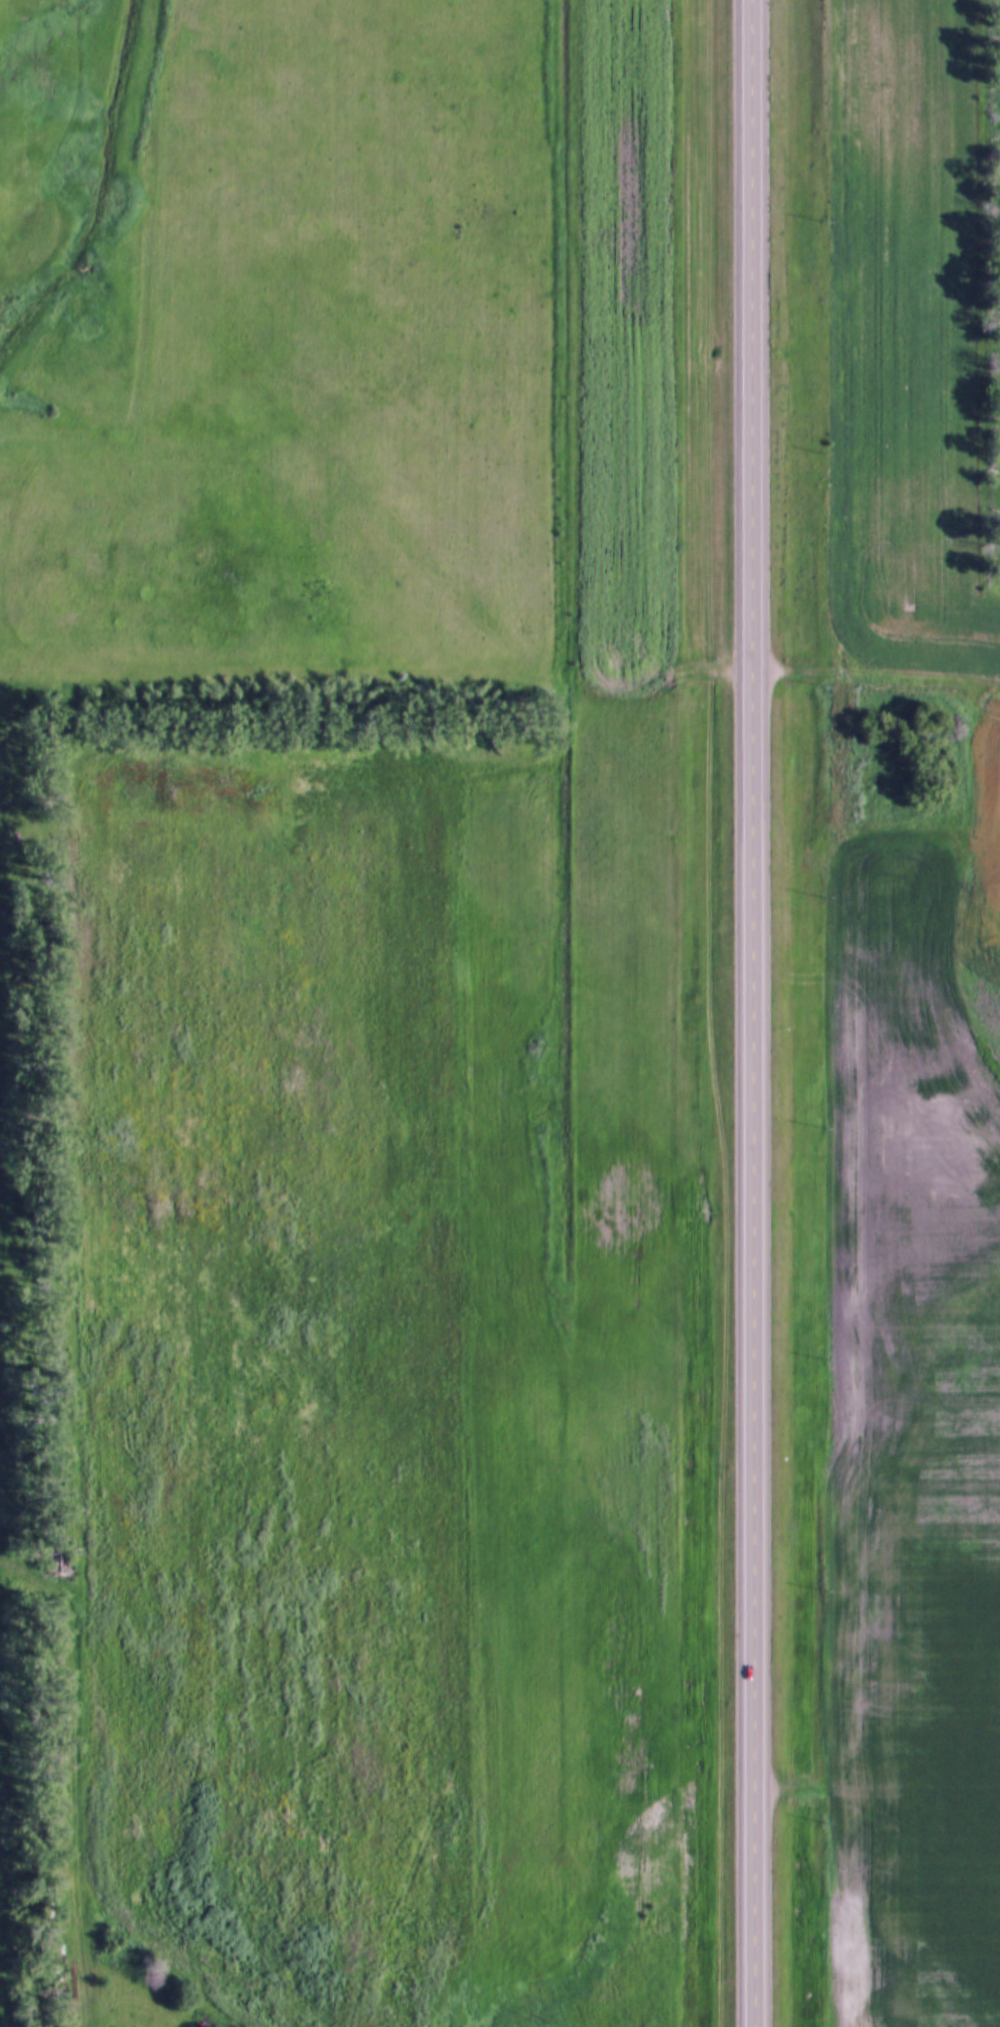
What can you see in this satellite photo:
road: (750, 1013)

